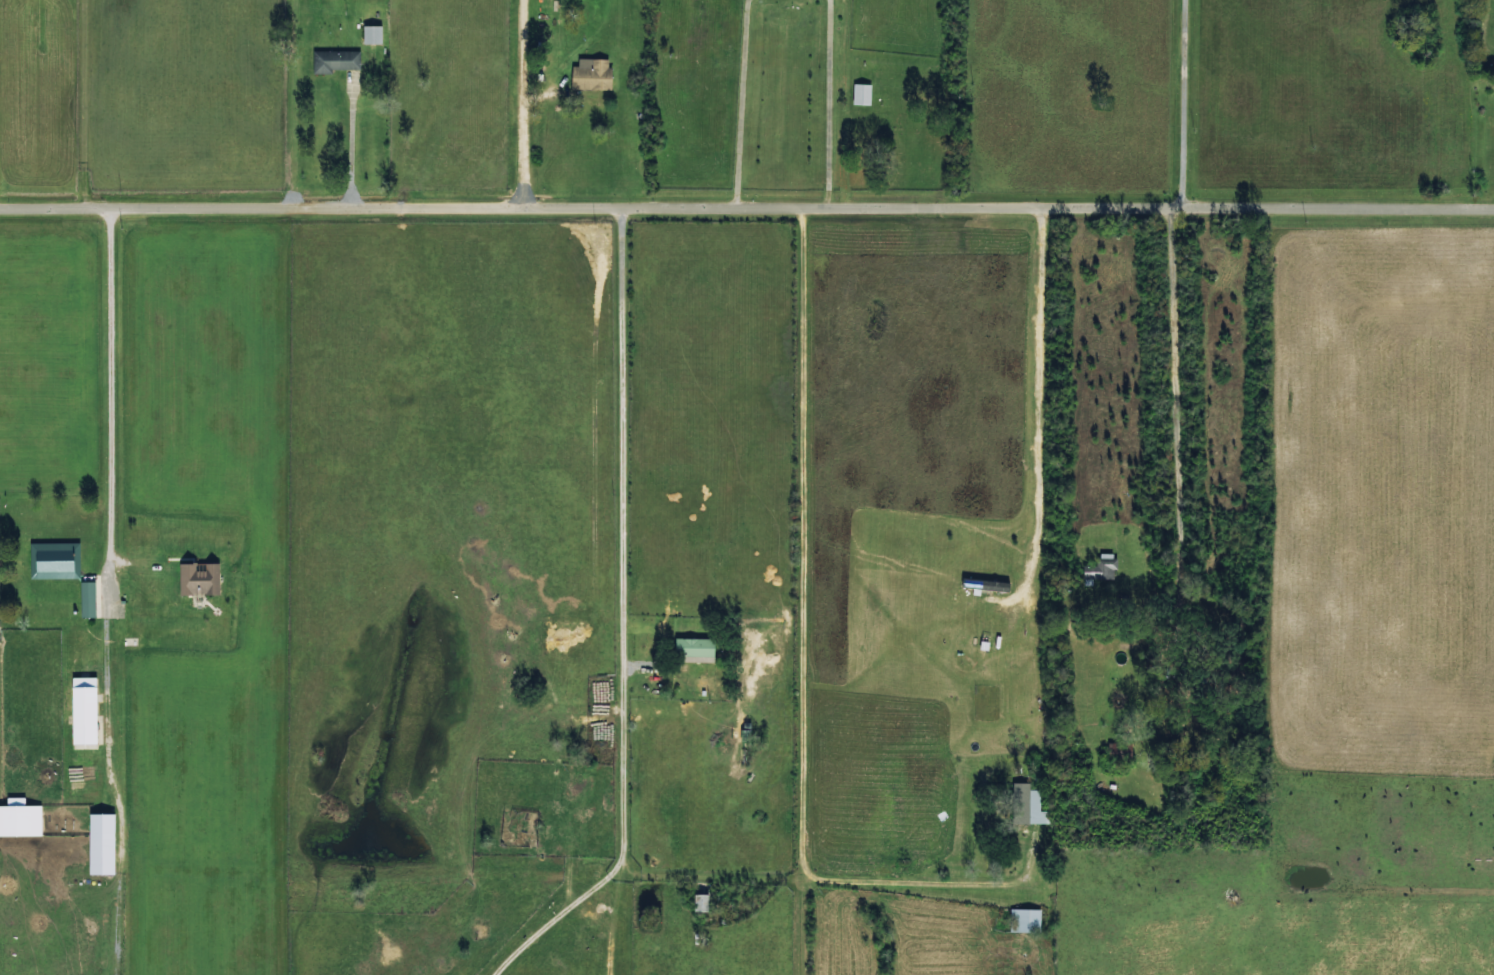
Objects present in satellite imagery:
building: (372, 34)
building: (336, 60)
building: (591, 74)
building: (861, 93)
road: (746, 222)
road: (1181, 439)
building: (54, 560)
road: (664, 568)
building: (1101, 568)
building: (199, 578)
building: (985, 584)
building: (87, 599)
building: (984, 642)
building: (694, 650)
building: (84, 710)
building: (1028, 805)
building: (20, 817)
building: (101, 842)
building: (700, 901)
building: (1024, 919)

